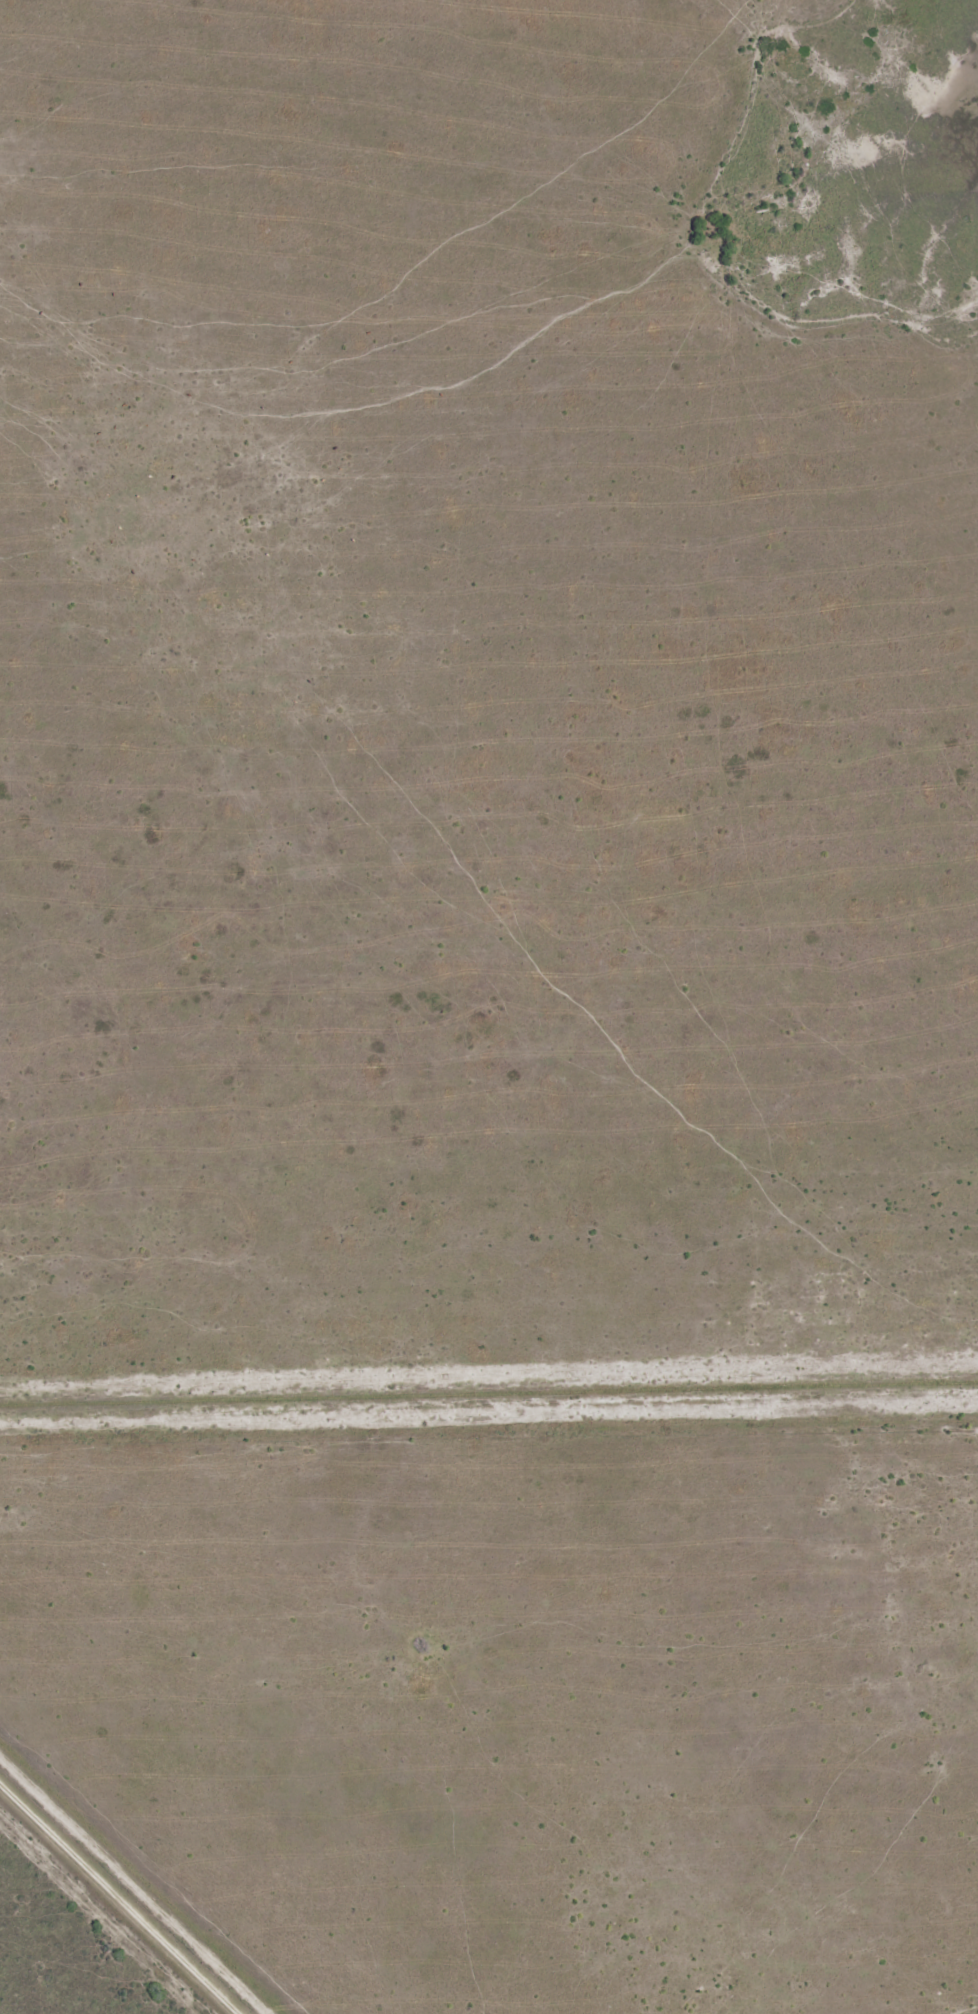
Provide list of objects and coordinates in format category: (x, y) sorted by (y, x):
road: (119, 1899)

